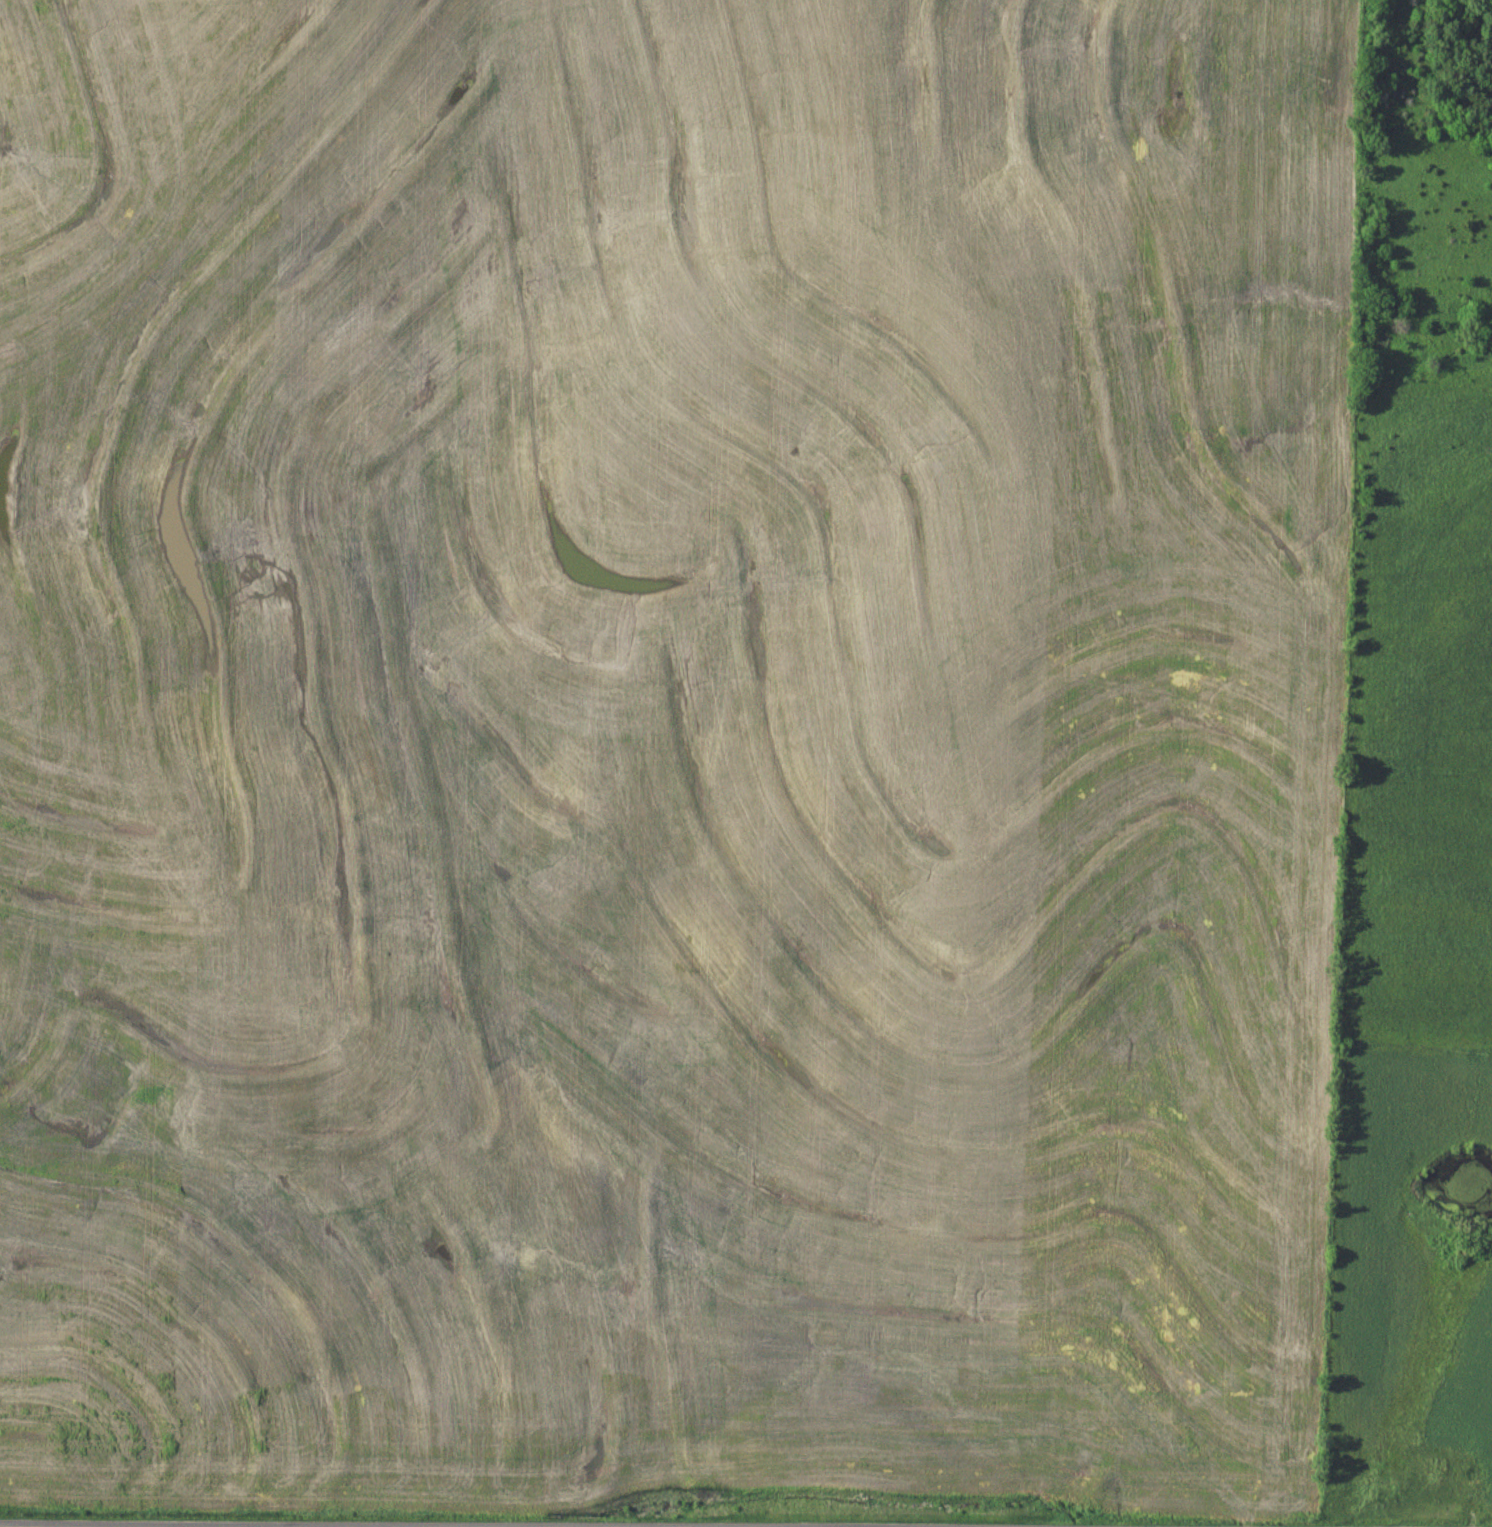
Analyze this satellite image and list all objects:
road: (114, 1526)

